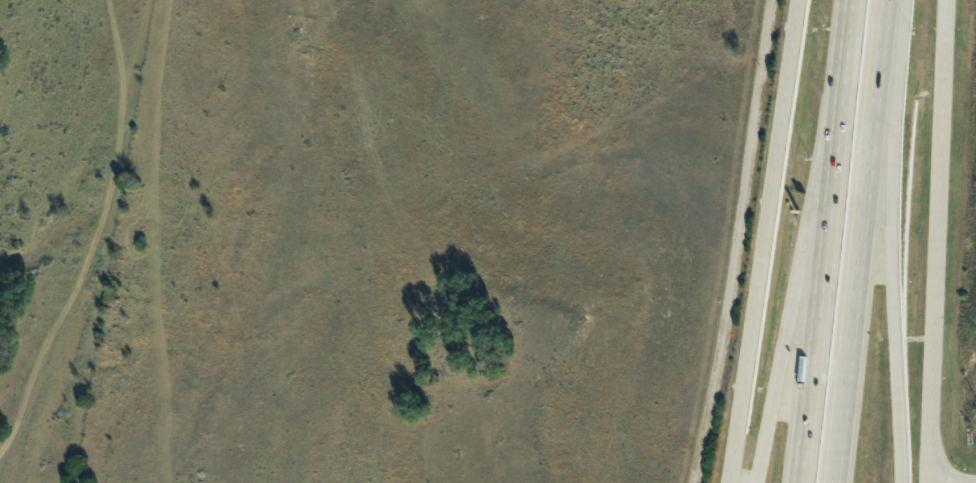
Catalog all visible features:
road: (846, 16)
road: (855, 240)
road: (763, 241)
road: (893, 241)
road: (936, 241)
road: (798, 257)
road: (820, 257)

